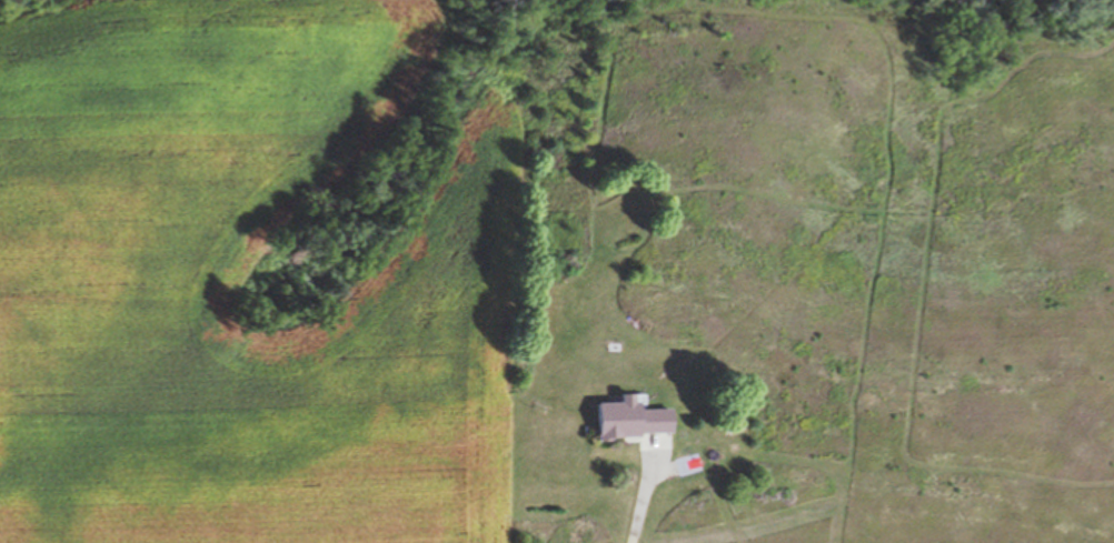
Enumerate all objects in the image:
building: (630, 424)
road: (639, 505)

